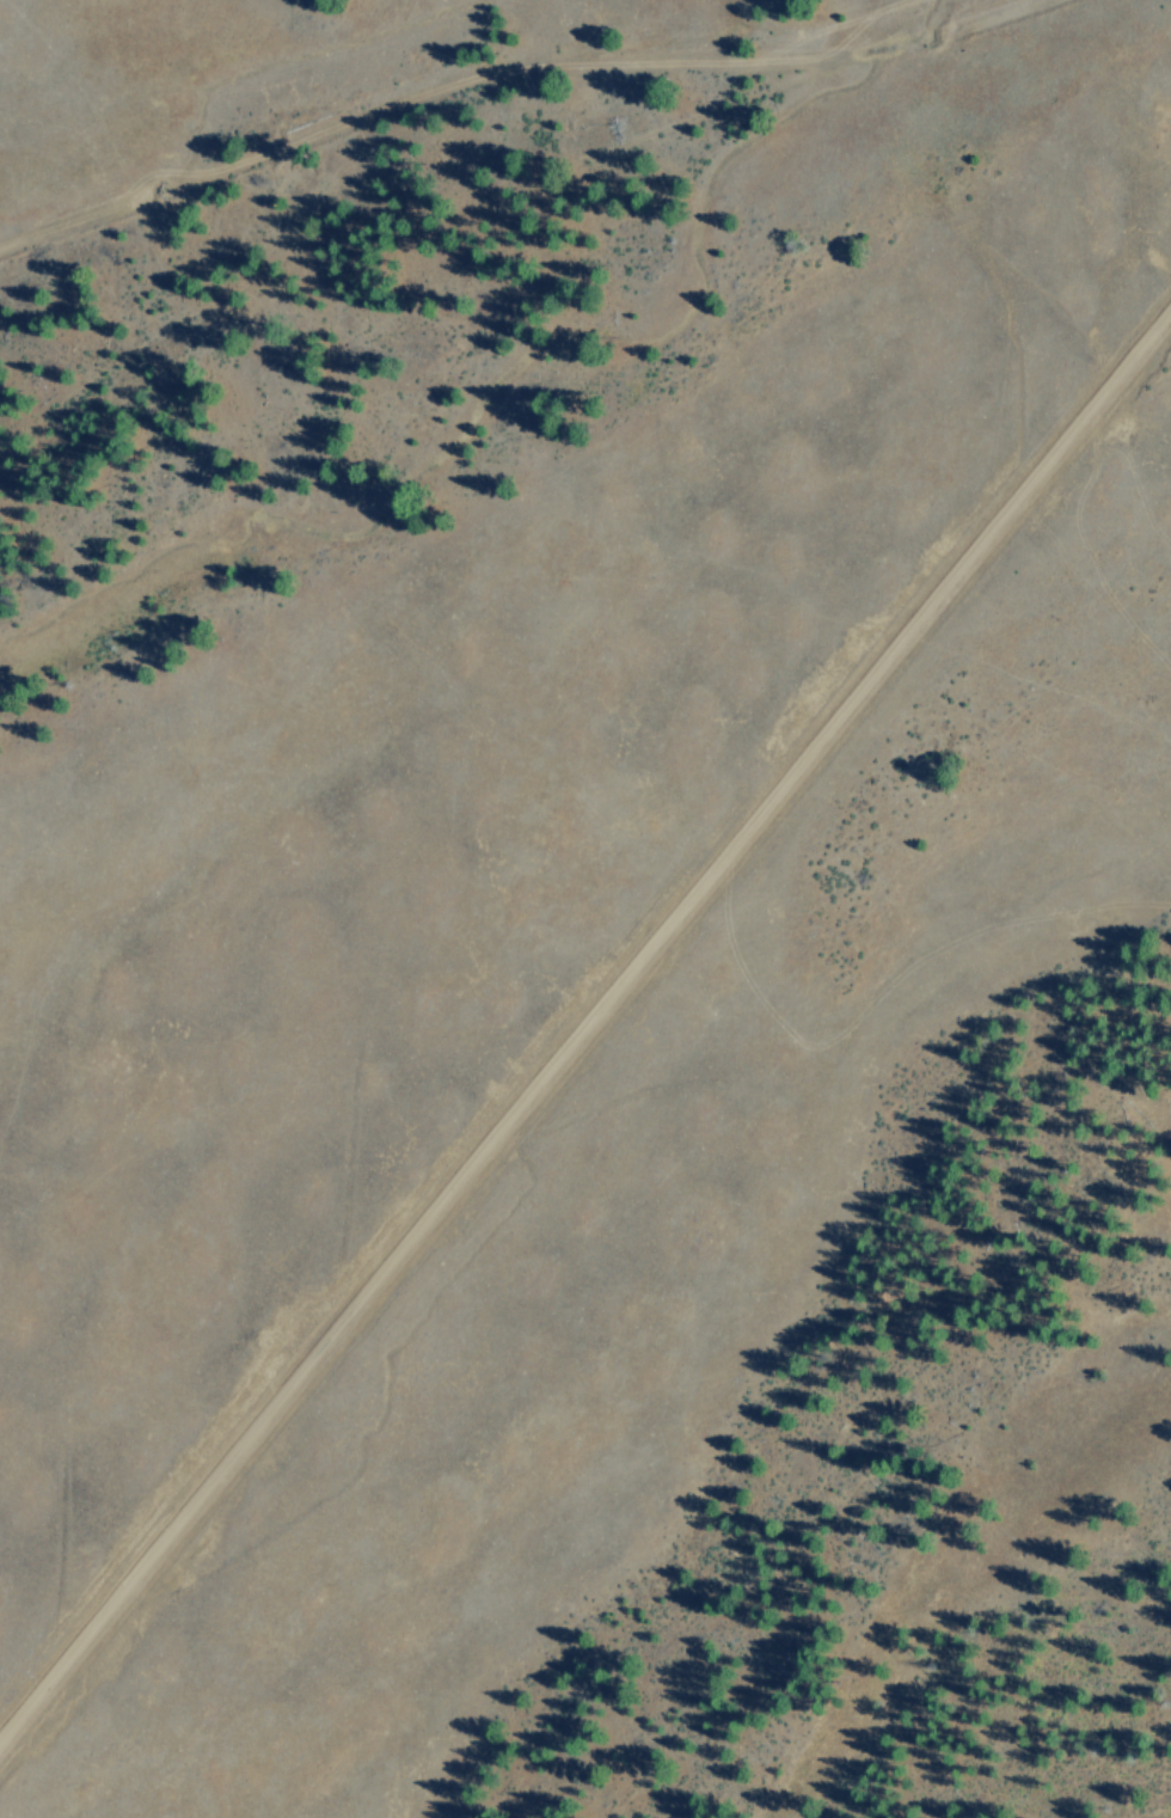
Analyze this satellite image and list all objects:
road: (585, 971)

